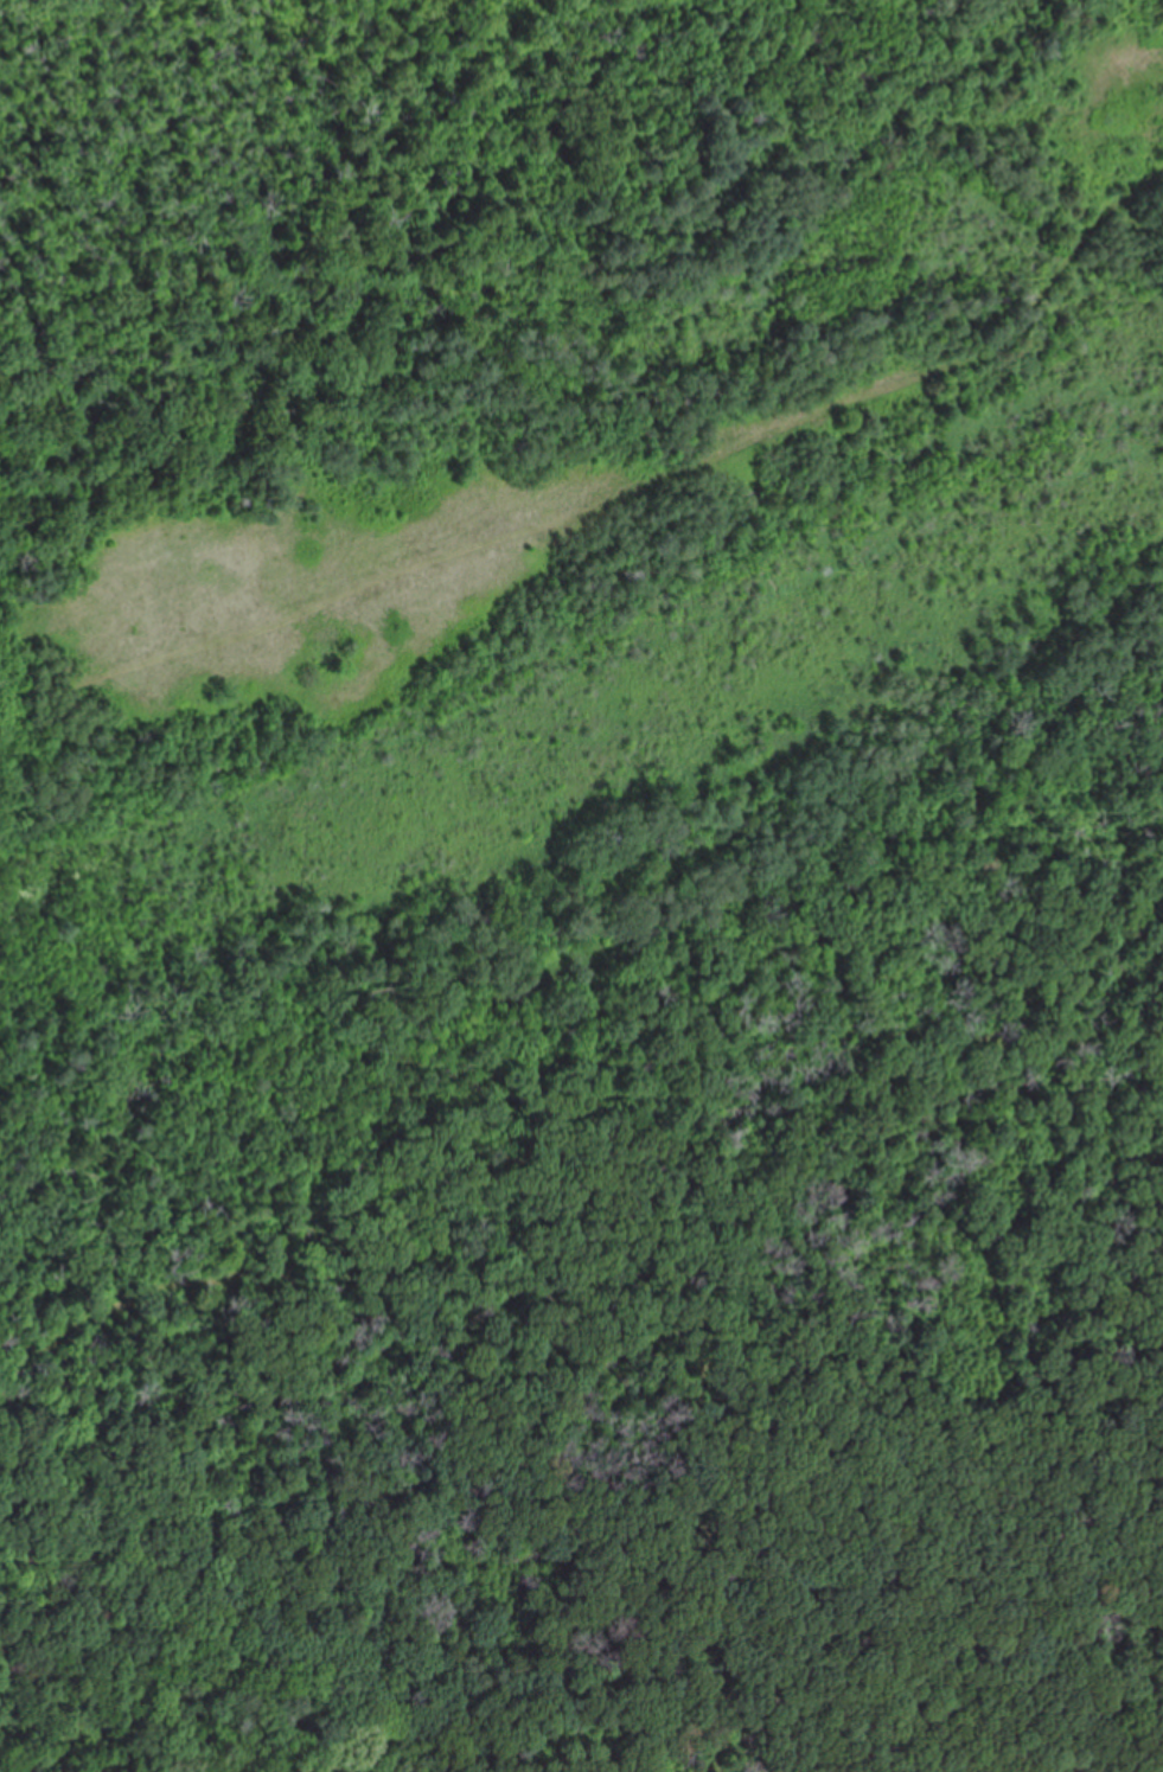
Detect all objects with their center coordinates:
road: (605, 439)
park: (548, 562)

